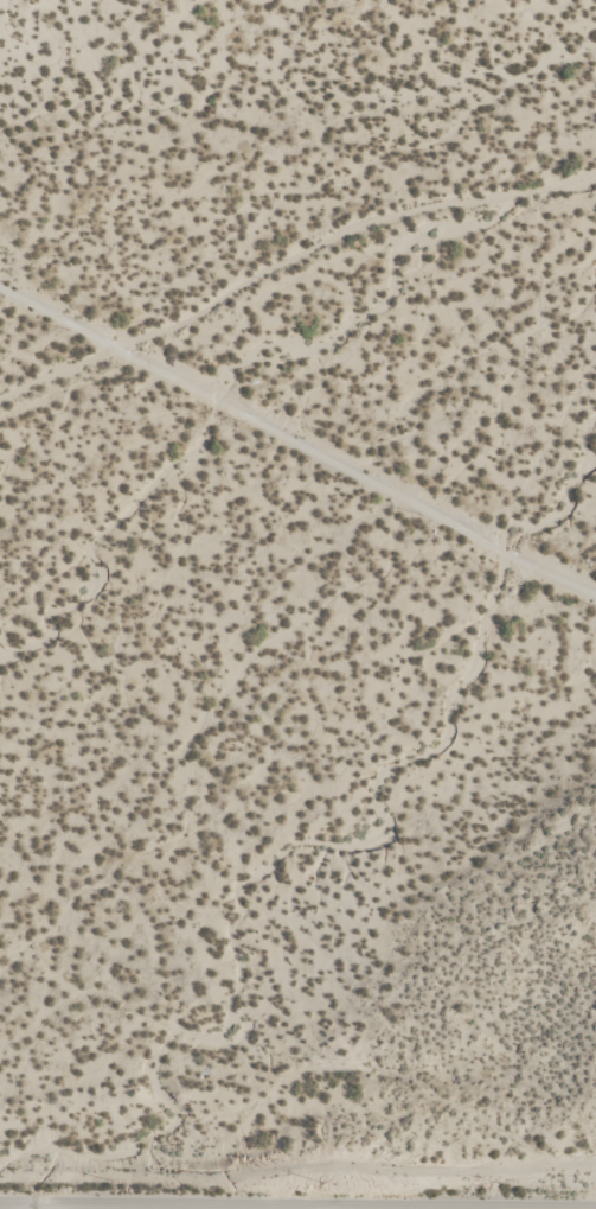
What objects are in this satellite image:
road: (262, 1207)

